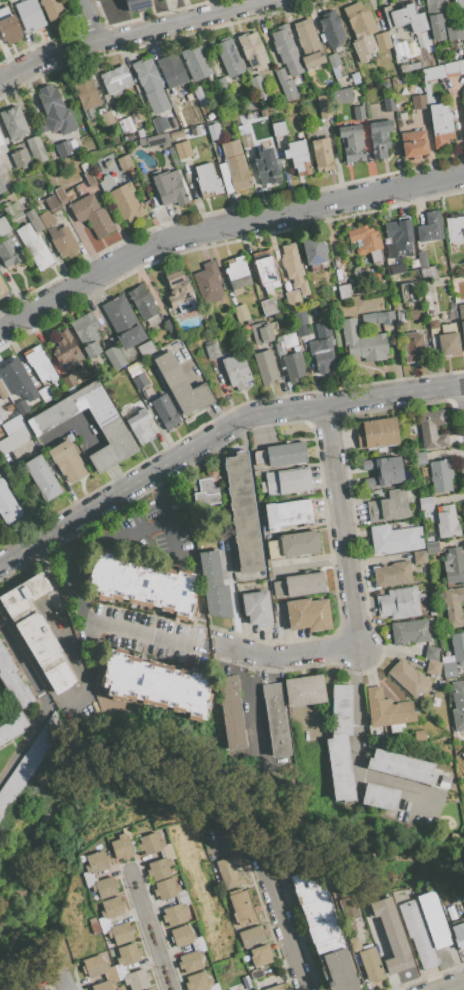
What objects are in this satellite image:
building: (458, 3)
building: (137, 5)
building: (52, 8)
building: (29, 15)
building: (435, 17)
road: (90, 19)
building: (408, 22)
building: (8, 26)
building: (361, 29)
building: (331, 30)
building: (463, 30)
road: (128, 31)
building: (453, 32)
building: (381, 42)
building: (308, 44)
building: (0, 50)
building: (252, 50)
building: (286, 50)
building: (228, 57)
building: (332, 60)
building: (196, 62)
building: (411, 66)
building: (443, 69)
building: (171, 70)
building: (355, 78)
building: (115, 80)
building: (385, 84)
building: (151, 85)
building: (285, 85)
building: (222, 86)
building: (258, 87)
building: (85, 92)
building: (198, 95)
building: (341, 97)
building: (417, 101)
building: (248, 104)
building: (388, 104)
building: (324, 106)
building: (463, 108)
building: (55, 111)
building: (358, 112)
building: (89, 113)
building: (257, 113)
building: (338, 115)
building: (402, 116)
building: (106, 118)
building: (185, 121)
building: (14, 122)
building: (128, 122)
building: (159, 123)
building: (440, 124)
building: (40, 127)
building: (278, 128)
building: (213, 131)
building: (140, 133)
building: (176, 134)
building: (244, 135)
building: (379, 138)
building: (1, 140)
building: (154, 140)
building: (351, 142)
building: (413, 144)
building: (65, 148)
building: (36, 149)
building: (182, 150)
building: (321, 155)
building: (298, 157)
building: (20, 159)
building: (124, 162)
building: (235, 165)
building: (266, 166)
building: (87, 175)
building: (143, 179)
building: (207, 180)
building: (1, 186)
building: (169, 187)
building: (81, 189)
building: (68, 193)
building: (60, 195)
building: (123, 199)
building: (51, 203)
building: (12, 211)
building: (91, 215)
building: (46, 219)
building: (34, 221)
building: (4, 226)
road: (221, 226)
building: (430, 227)
building: (455, 229)
building: (398, 233)
building: (62, 241)
building: (366, 242)
building: (34, 246)
building: (313, 251)
building: (390, 251)
building: (8, 254)
building: (422, 259)
building: (293, 268)
building: (397, 269)
building: (238, 273)
building: (266, 273)
building: (428, 273)
building: (338, 275)
building: (393, 277)
building: (208, 283)
building: (2, 289)
building: (344, 291)
building: (408, 293)
building: (178, 296)
building: (292, 299)
building: (443, 305)
building: (145, 306)
building: (268, 307)
building: (240, 312)
building: (413, 314)
building: (399, 315)
building: (300, 317)
building: (376, 317)
building: (461, 320)
building: (123, 321)
building: (432, 325)
building: (169, 326)
building: (87, 333)
building: (261, 333)
building: (289, 340)
building: (448, 340)
building: (363, 342)
building: (279, 346)
building: (301, 346)
building: (413, 346)
building: (145, 348)
building: (322, 348)
building: (65, 349)
building: (212, 350)
building: (115, 357)
building: (40, 365)
building: (293, 366)
building: (265, 367)
building: (235, 370)
building: (18, 379)
building: (140, 380)
building: (68, 381)
building: (182, 385)
road: (463, 387)
building: (2, 392)
building: (44, 393)
building: (21, 406)
building: (8, 407)
building: (165, 411)
building: (0, 421)
building: (140, 426)
building: (432, 428)
building: (112, 429)
road: (217, 432)
building: (376, 432)
building: (14, 434)
building: (413, 449)
building: (281, 454)
building: (418, 458)
building: (66, 461)
building: (383, 470)
building: (424, 470)
building: (440, 475)
building: (42, 478)
building: (286, 482)
building: (206, 490)
building: (8, 506)
building: (388, 506)
building: (426, 507)
building: (243, 512)
building: (288, 513)
road: (162, 516)
building: (447, 522)
road: (142, 527)
building: (394, 539)
building: (293, 545)
building: (431, 548)
building: (419, 557)
building: (453, 565)
road: (42, 567)
road: (71, 572)
road: (257, 574)
building: (393, 574)
building: (213, 579)
building: (300, 584)
building: (142, 585)
road: (350, 591)
road: (232, 601)
building: (401, 603)
building: (454, 606)
building: (257, 608)
building: (307, 615)
building: (409, 631)
building: (37, 632)
road: (145, 632)
building: (457, 647)
road: (217, 648)
building: (431, 653)
building: (448, 666)
building: (433, 667)
building: (407, 677)
building: (13, 681)
building: (155, 683)
building: (305, 691)
road: (73, 696)
road: (44, 704)
building: (457, 705)
building: (387, 710)
building: (231, 713)
building: (275, 719)
building: (12, 727)
building: (419, 735)
building: (340, 745)
road: (356, 752)
building: (462, 754)
road: (257, 760)
building: (29, 761)
building: (406, 768)
building: (380, 796)
building: (122, 845)
building: (167, 857)
building: (228, 872)
building: (88, 875)
building: (161, 878)
building: (453, 896)
building: (444, 898)
building: (183, 902)
building: (242, 908)
building: (348, 911)
road: (281, 917)
building: (103, 920)
building: (433, 920)
building: (93, 926)
building: (323, 931)
road: (150, 932)
building: (417, 932)
building: (458, 932)
building: (391, 935)
building: (251, 936)
building: (98, 939)
building: (354, 944)
building: (199, 949)
building: (260, 955)
building: (370, 963)
building: (117, 969)
building: (256, 974)
building: (200, 982)
road: (65, 983)
road: (449, 984)
building: (119, 988)
building: (275, 988)
building: (42, 989)
building: (149, 989)

